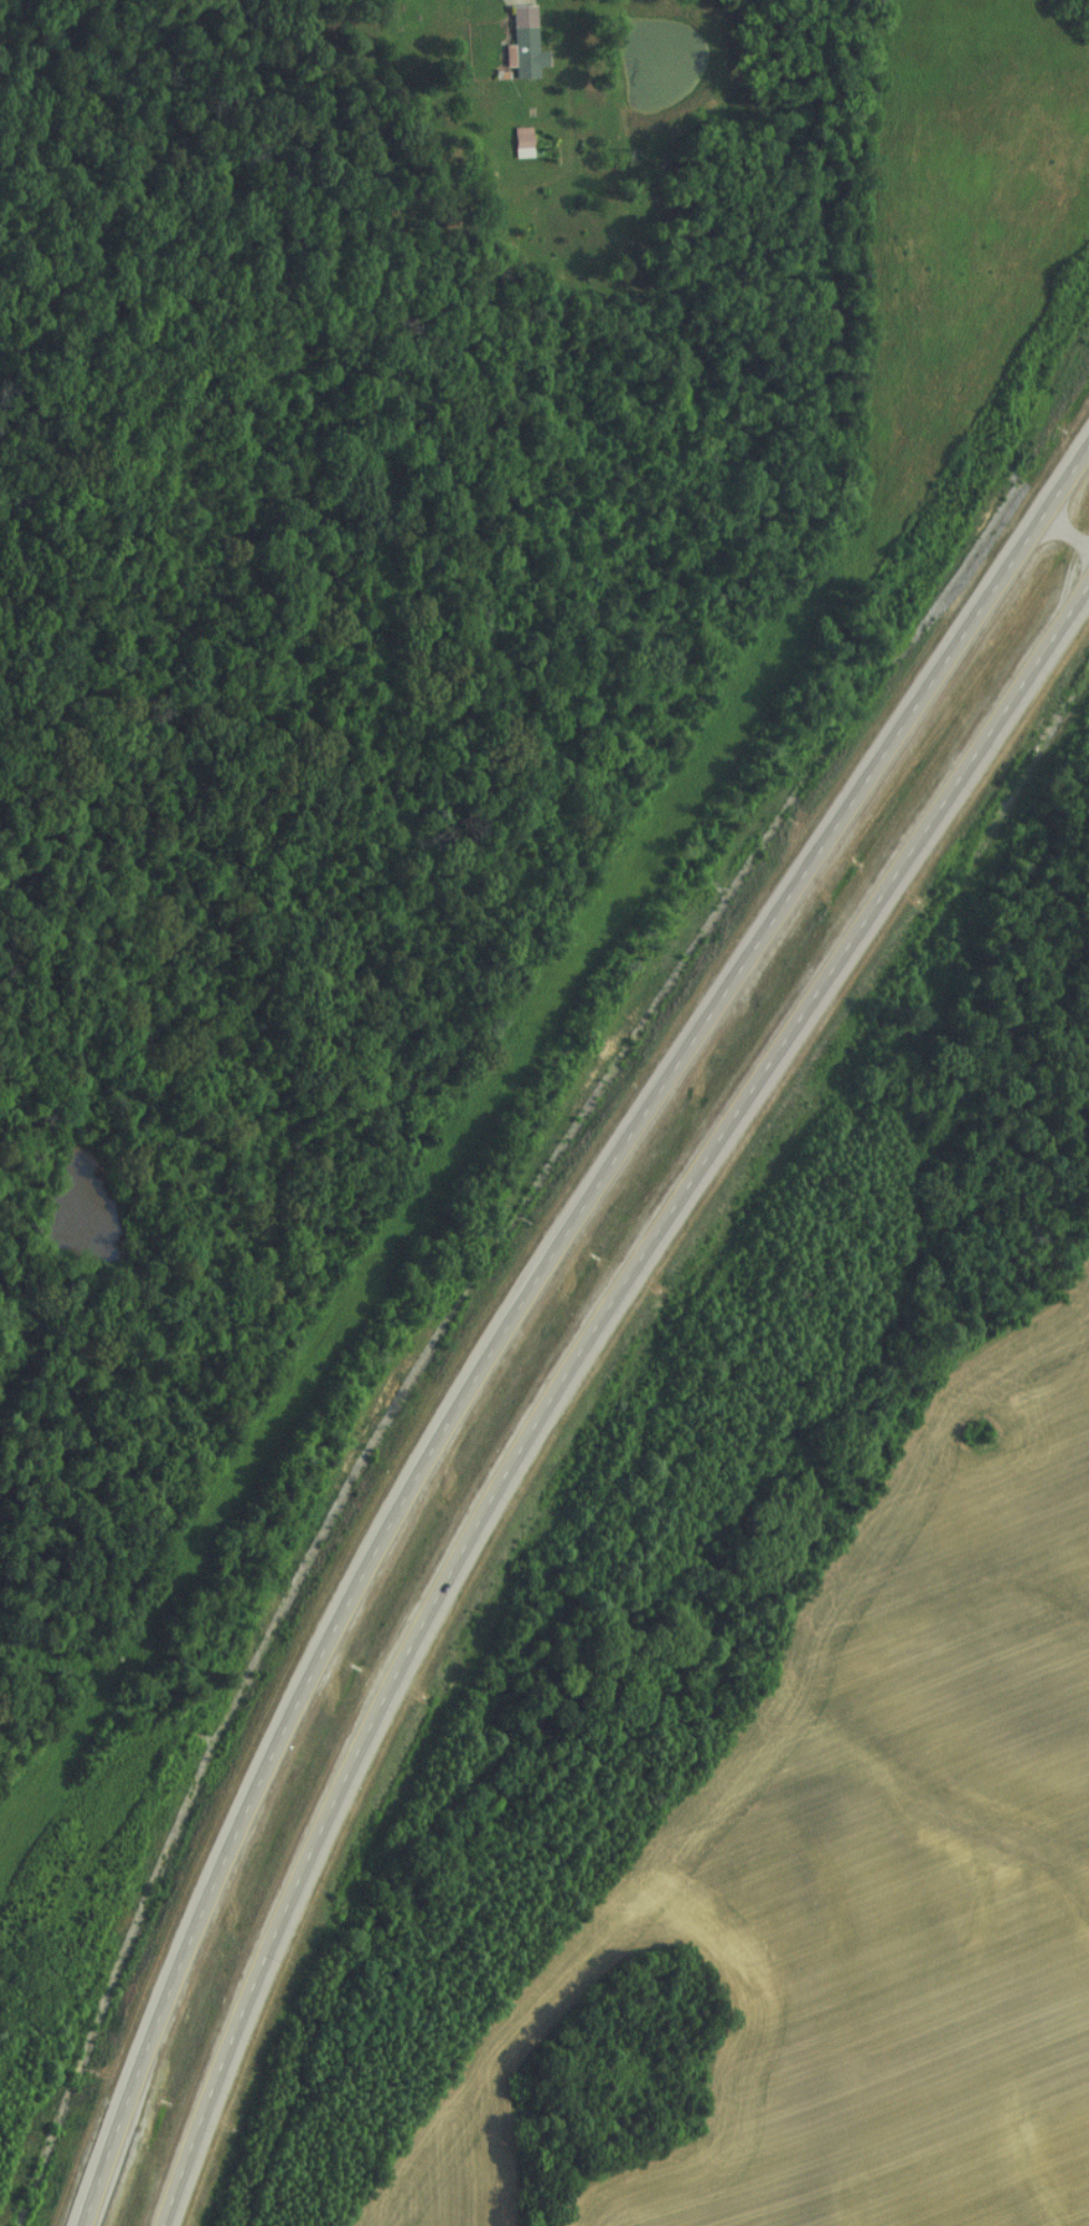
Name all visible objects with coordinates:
building: (1053, 4)
building: (522, 46)
building: (518, 145)
road: (519, 1297)
road: (563, 1367)

